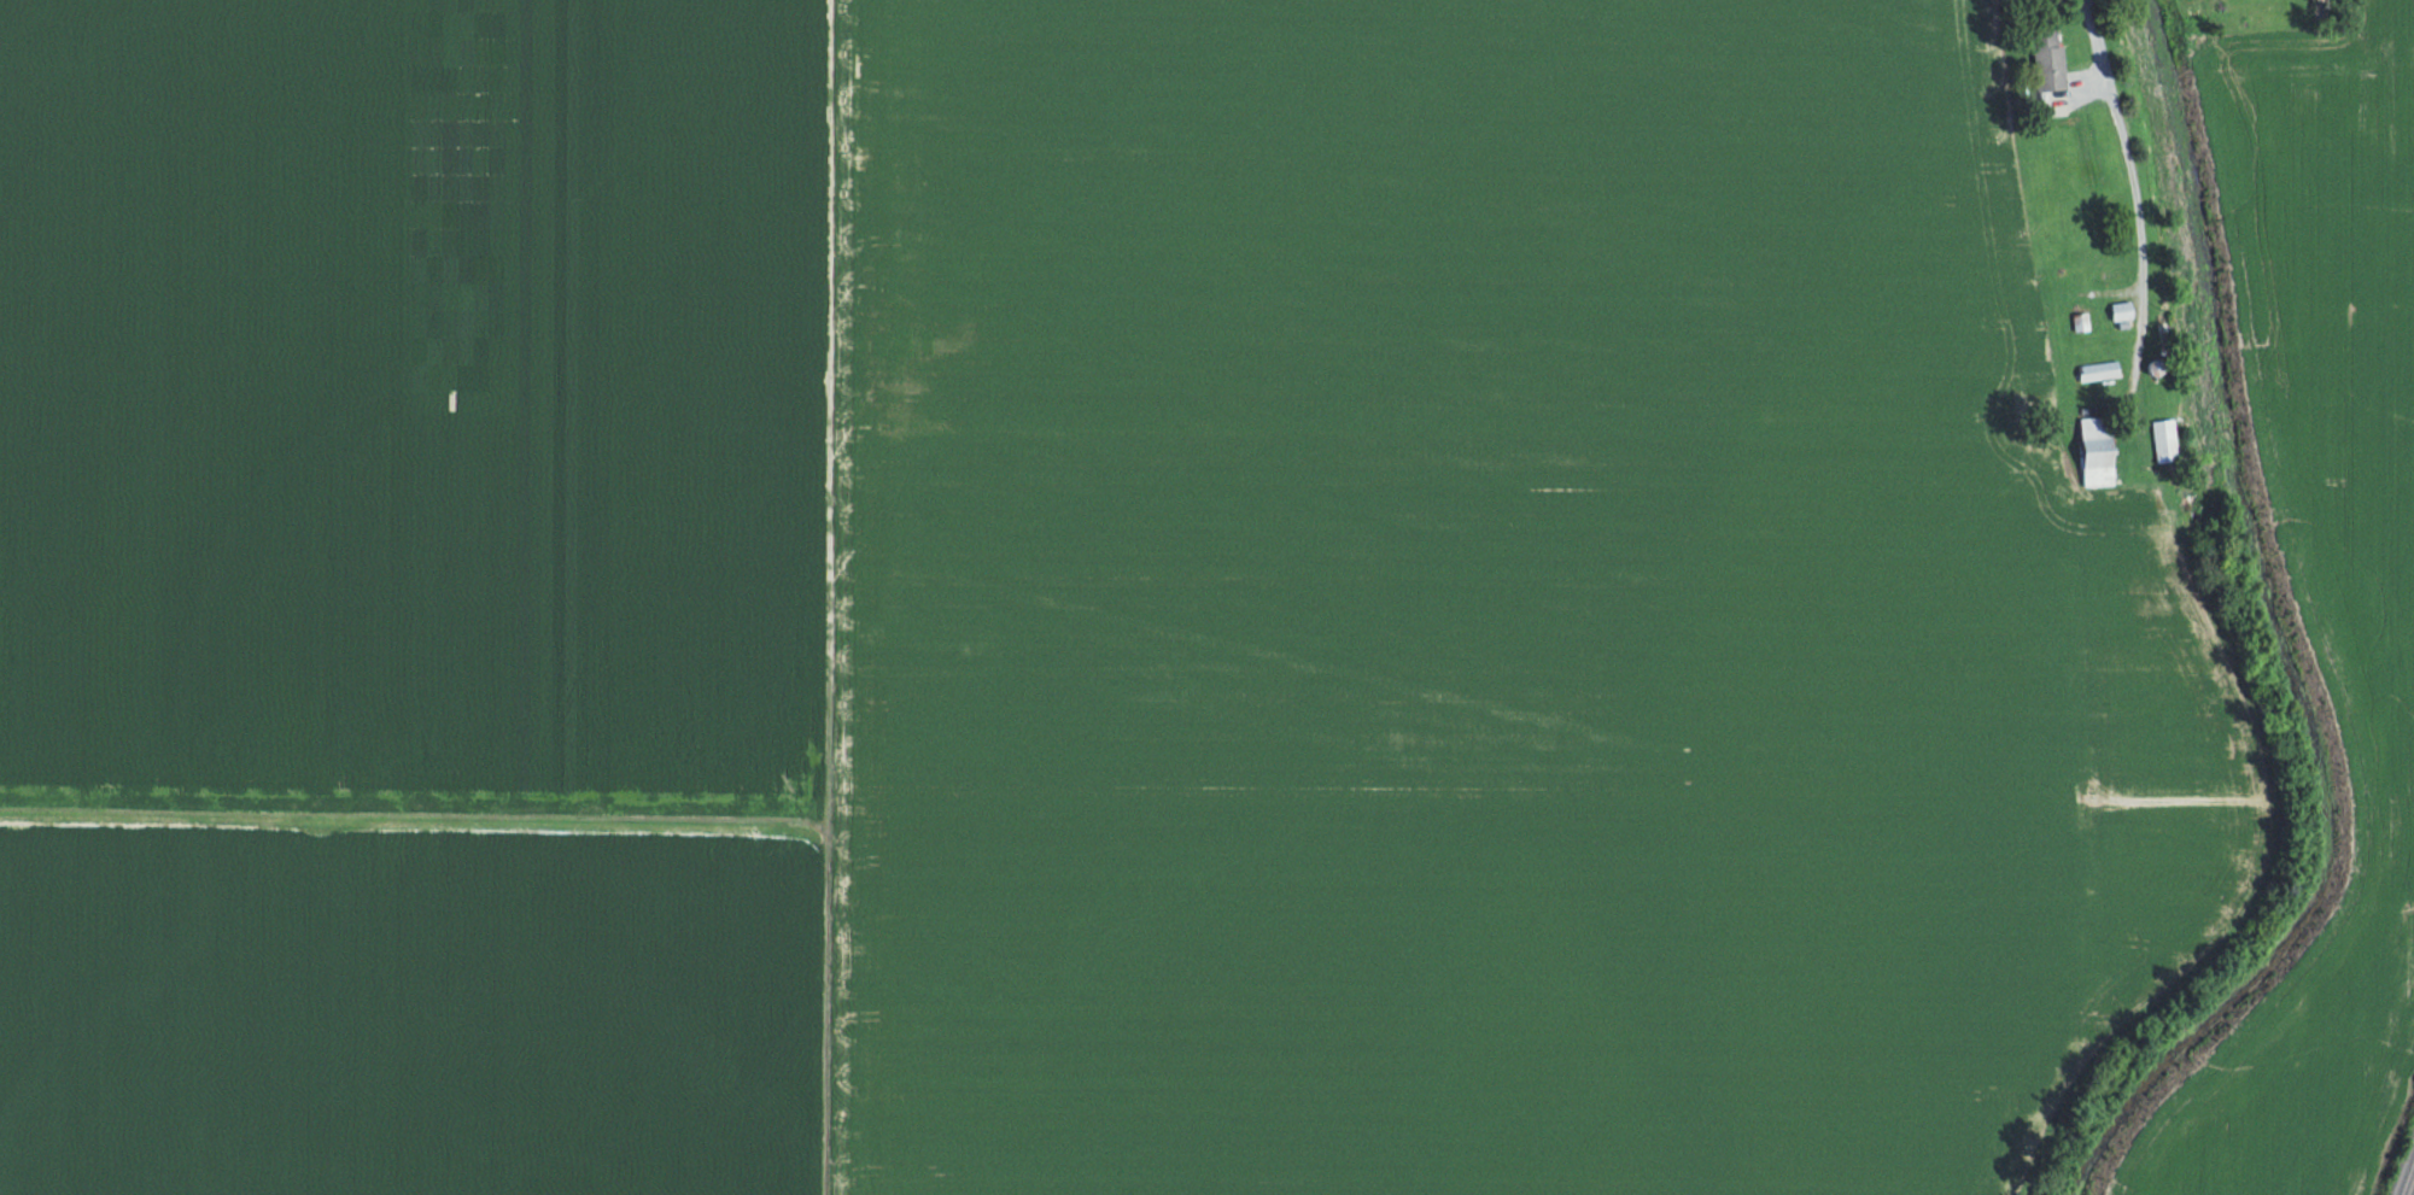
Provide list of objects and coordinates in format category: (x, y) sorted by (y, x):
building: (2047, 55)
road: (2135, 160)
building: (2099, 252)
building: (2122, 309)
building: (2099, 369)
building: (2164, 439)
building: (2098, 449)
railway: (2407, 1175)
railway: (2413, 1194)

